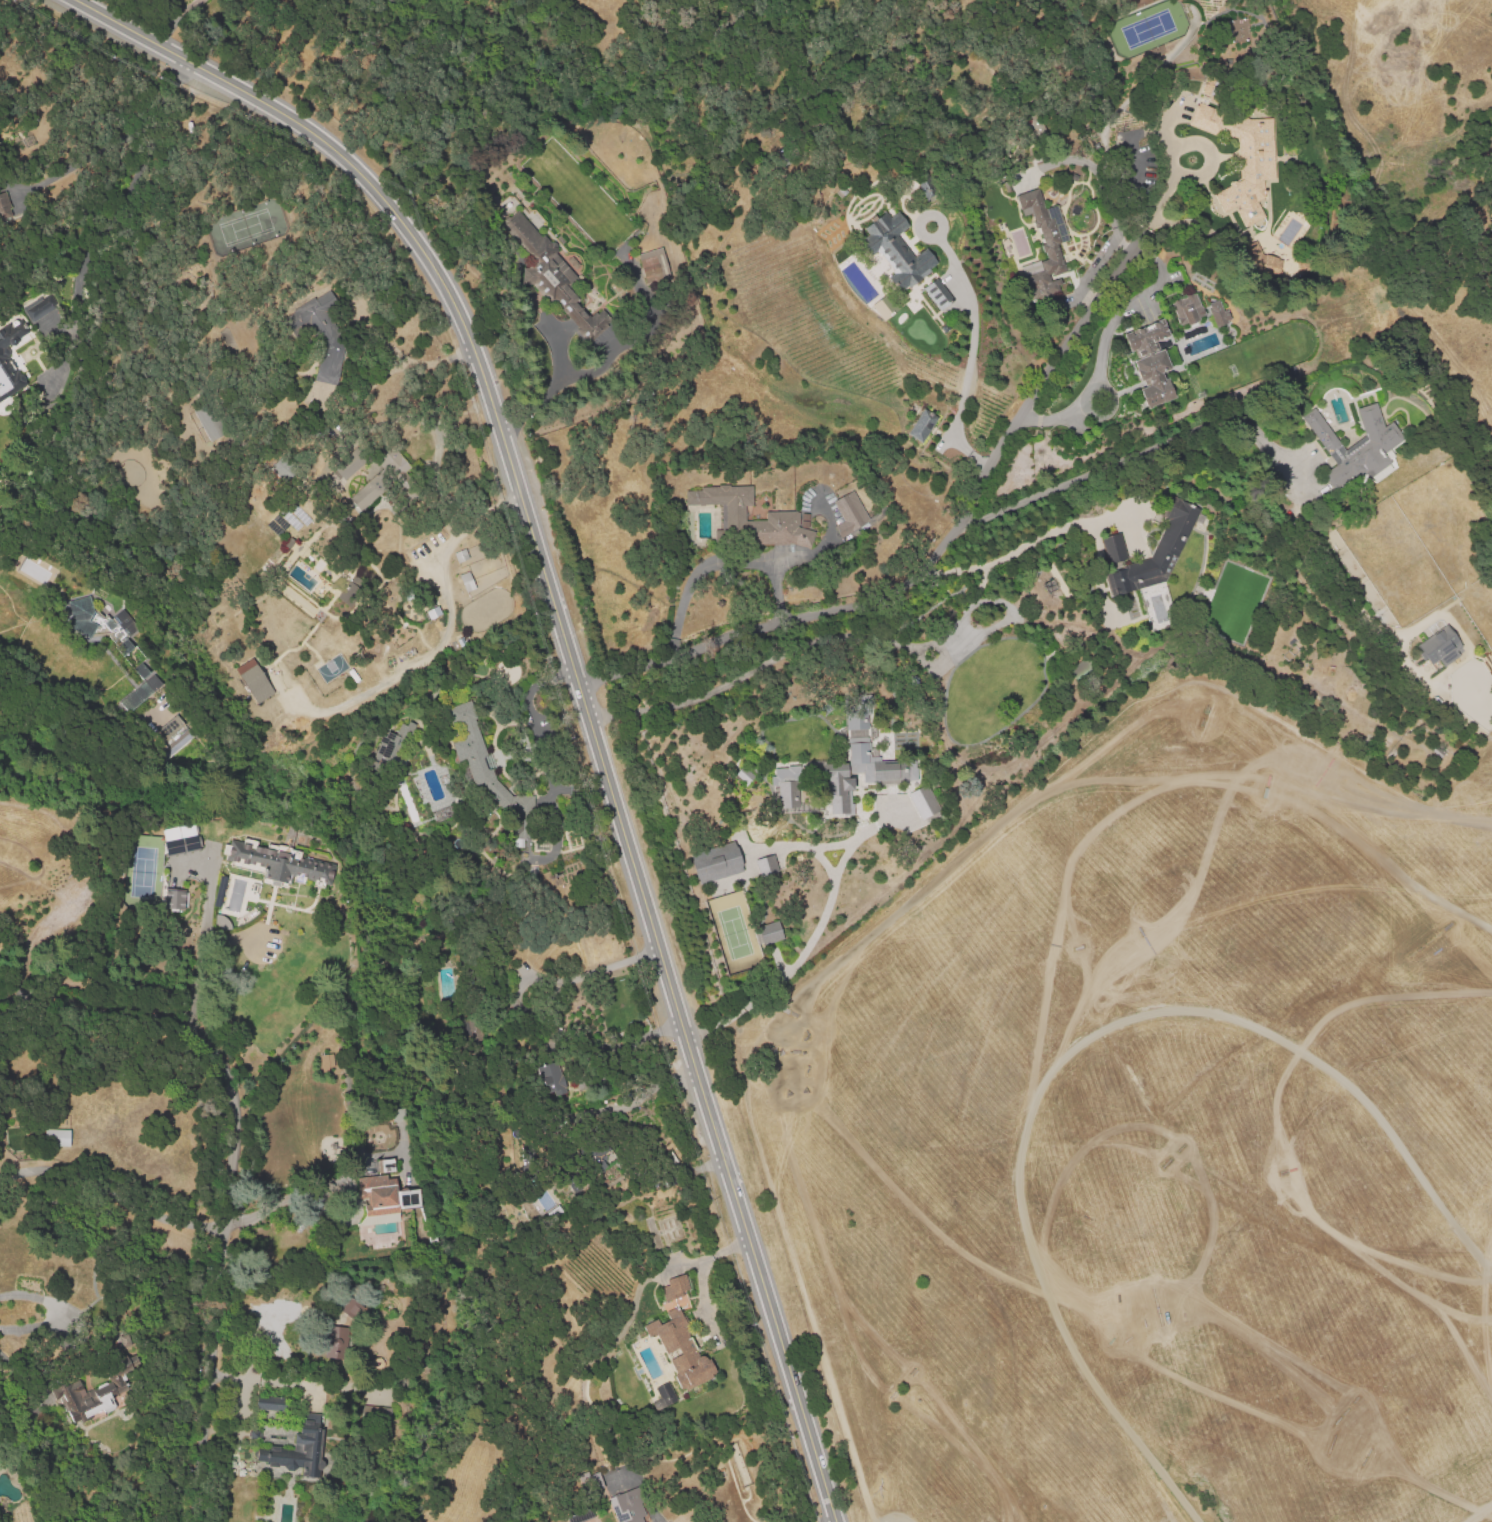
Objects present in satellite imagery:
road: (174, 19)
road: (118, 139)
building: (1247, 163)
building: (926, 188)
road: (1157, 202)
building: (4, 206)
building: (1043, 231)
building: (897, 253)
building: (1262, 261)
building: (653, 265)
road: (1159, 267)
building: (551, 272)
building: (937, 296)
building: (881, 306)
building: (41, 312)
building: (1219, 315)
road: (973, 320)
building: (322, 336)
building: (1152, 352)
building: (11, 361)
road: (546, 393)
road: (1214, 420)
building: (208, 423)
building: (922, 427)
building: (1360, 450)
building: (395, 459)
building: (282, 463)
building: (350, 464)
road: (984, 475)
building: (849, 510)
building: (782, 517)
building: (1113, 548)
building: (1163, 548)
road: (1021, 551)
building: (460, 557)
road: (716, 562)
building: (467, 583)
building: (1115, 584)
road: (862, 606)
building: (1155, 606)
building: (431, 615)
building: (102, 627)
road: (440, 639)
building: (1440, 648)
building: (1081, 668)
building: (141, 672)
road: (573, 676)
building: (994, 680)
building: (256, 685)
building: (139, 695)
building: (169, 736)
building: (469, 743)
building: (391, 744)
building: (996, 755)
building: (862, 763)
building: (743, 775)
building: (787, 787)
building: (496, 793)
building: (924, 802)
building: (521, 816)
road: (870, 826)
building: (179, 839)
building: (1354, 843)
road: (779, 844)
building: (717, 863)
building: (277, 865)
building: (765, 867)
building: (1400, 884)
building: (12, 887)
building: (173, 898)
building: (1411, 916)
building: (1416, 928)
road: (815, 930)
building: (770, 934)
road: (200, 943)
building: (1428, 954)
road: (592, 971)
building: (468, 1031)
building: (326, 1062)
building: (552, 1073)
building: (1428, 1083)
building: (56, 1139)
building: (599, 1156)
building: (382, 1166)
road: (229, 1172)
building: (27, 1173)
building: (379, 1192)
road: (284, 1199)
road: (700, 1273)
building: (674, 1289)
building: (350, 1309)
building: (337, 1337)
building: (681, 1353)
building: (665, 1396)
building: (87, 1401)
building: (270, 1405)
building: (382, 1415)
building: (299, 1451)
building: (632, 1507)
road: (1479, 1513)
building: (577, 1517)

